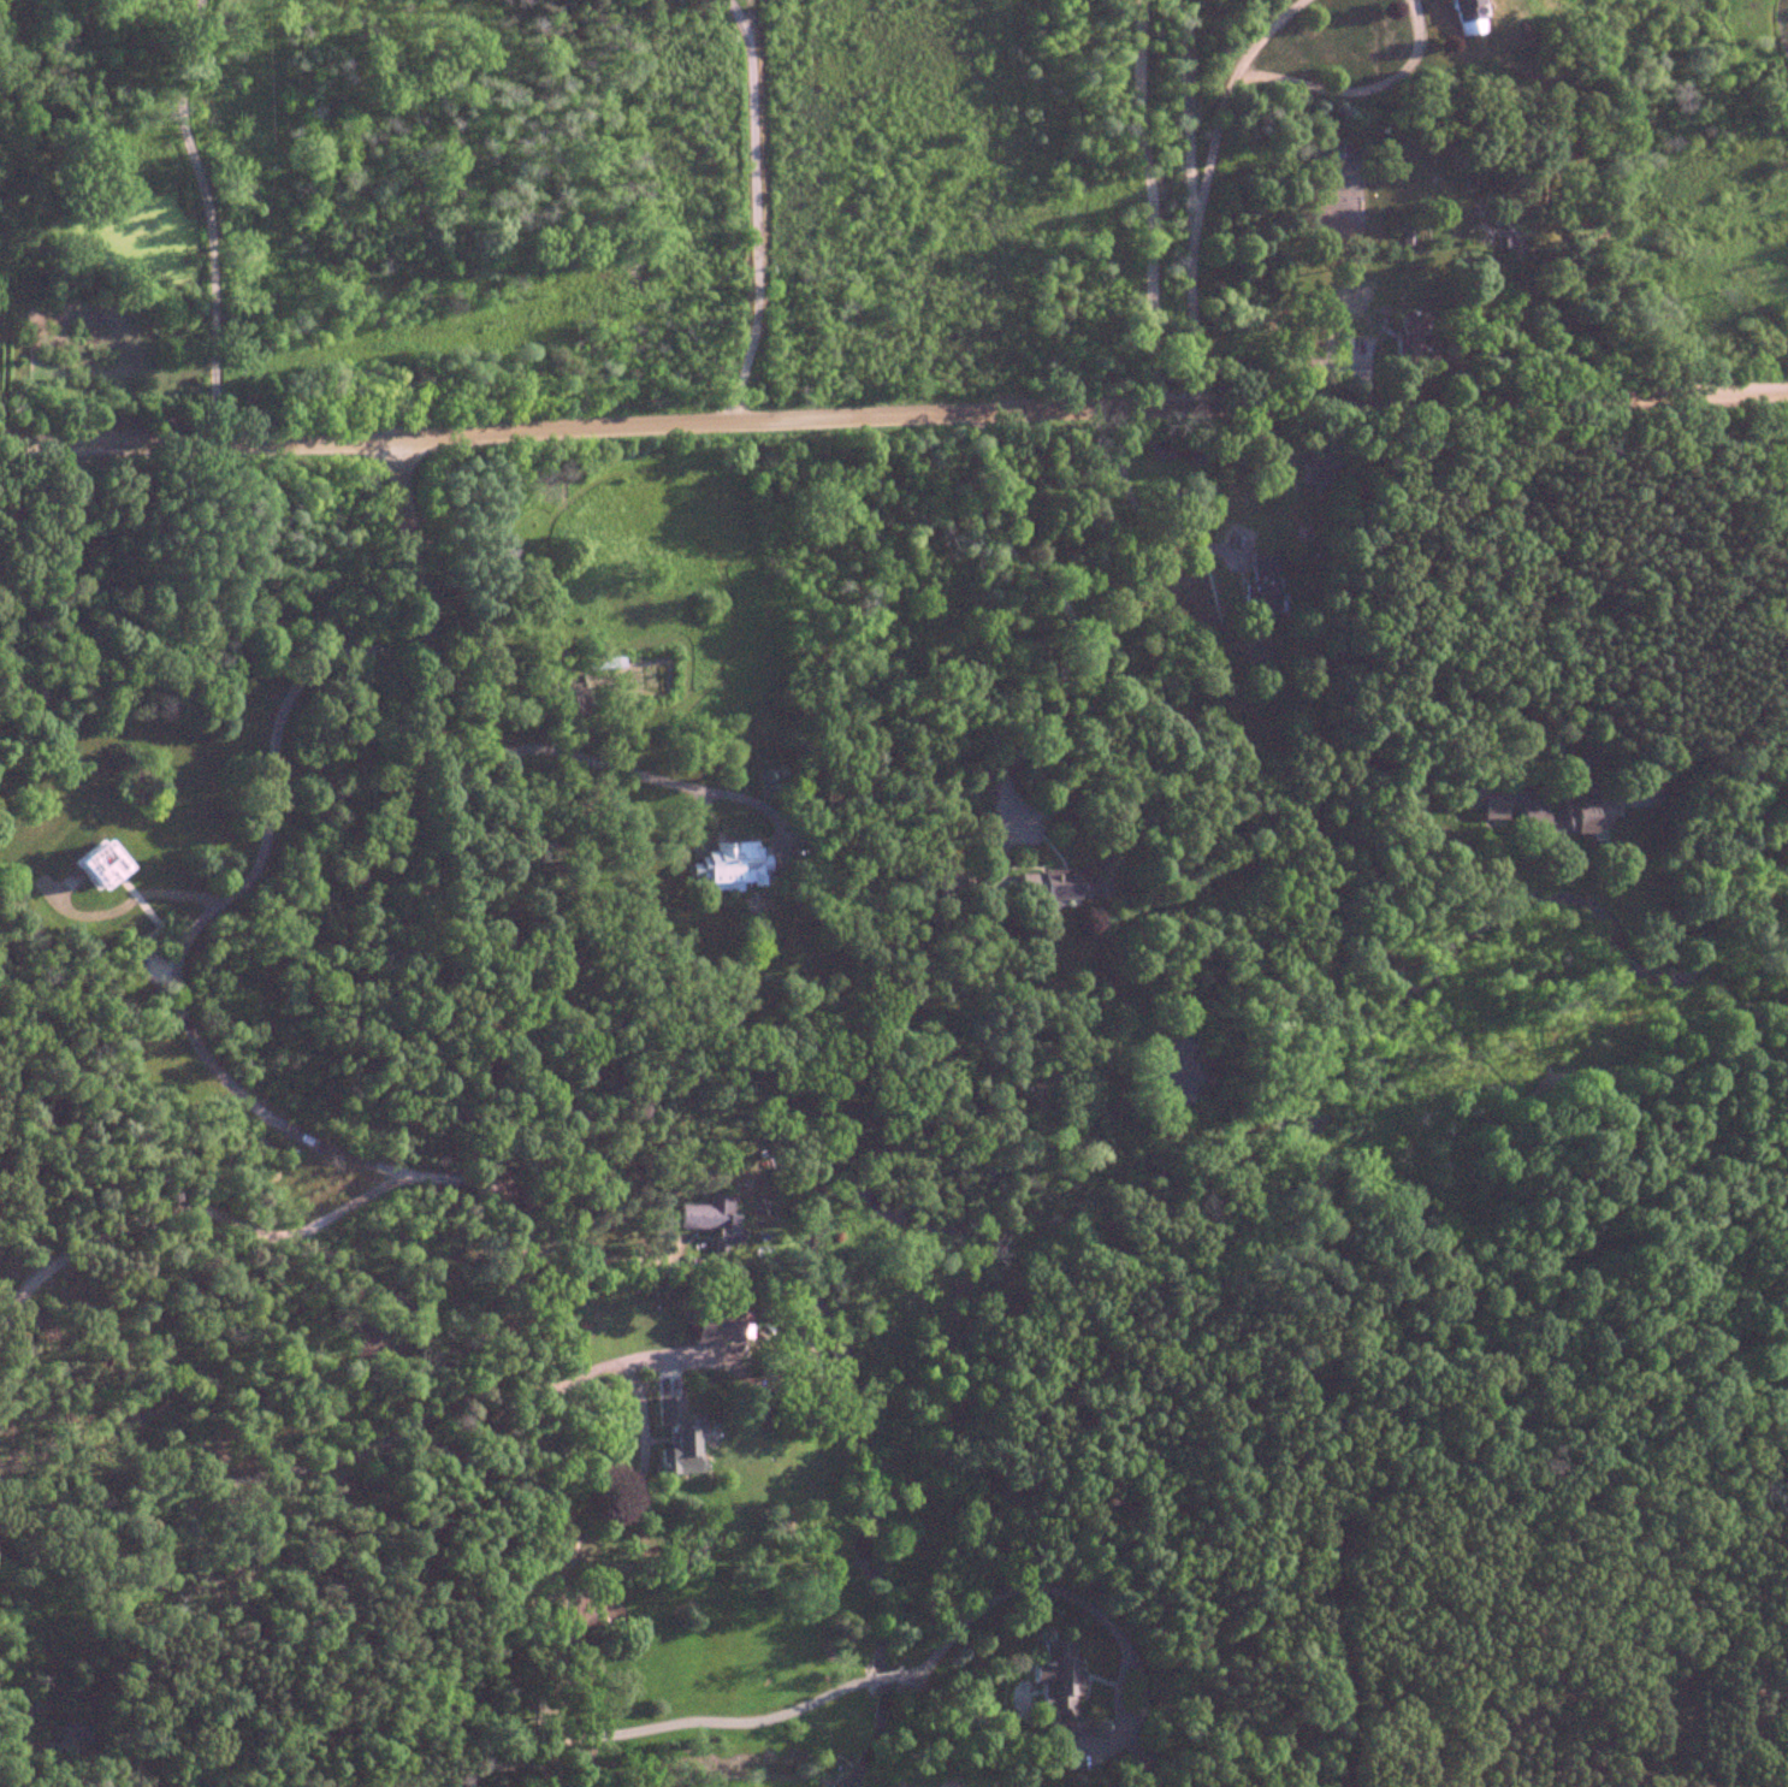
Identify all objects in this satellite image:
building: (1466, 17)
road: (1313, 85)
building: (1338, 177)
road: (1151, 202)
road: (754, 207)
road: (185, 220)
road: (1195, 235)
building: (1410, 342)
road: (893, 415)
building: (1322, 471)
road: (1133, 502)
building: (1263, 585)
road: (1070, 613)
road: (1451, 656)
building: (561, 706)
road: (618, 765)
building: (1540, 809)
building: (94, 863)
building: (732, 864)
building: (951, 884)
building: (1061, 886)
road: (177, 952)
road: (493, 1112)
road: (596, 1193)
road: (191, 1209)
building: (709, 1217)
building: (711, 1325)
road: (644, 1437)
building: (676, 1438)
road: (274, 1471)
road: (1077, 1596)
road: (886, 1676)
building: (1058, 1688)
road: (712, 1722)
road: (498, 1768)
road: (644, 1786)

